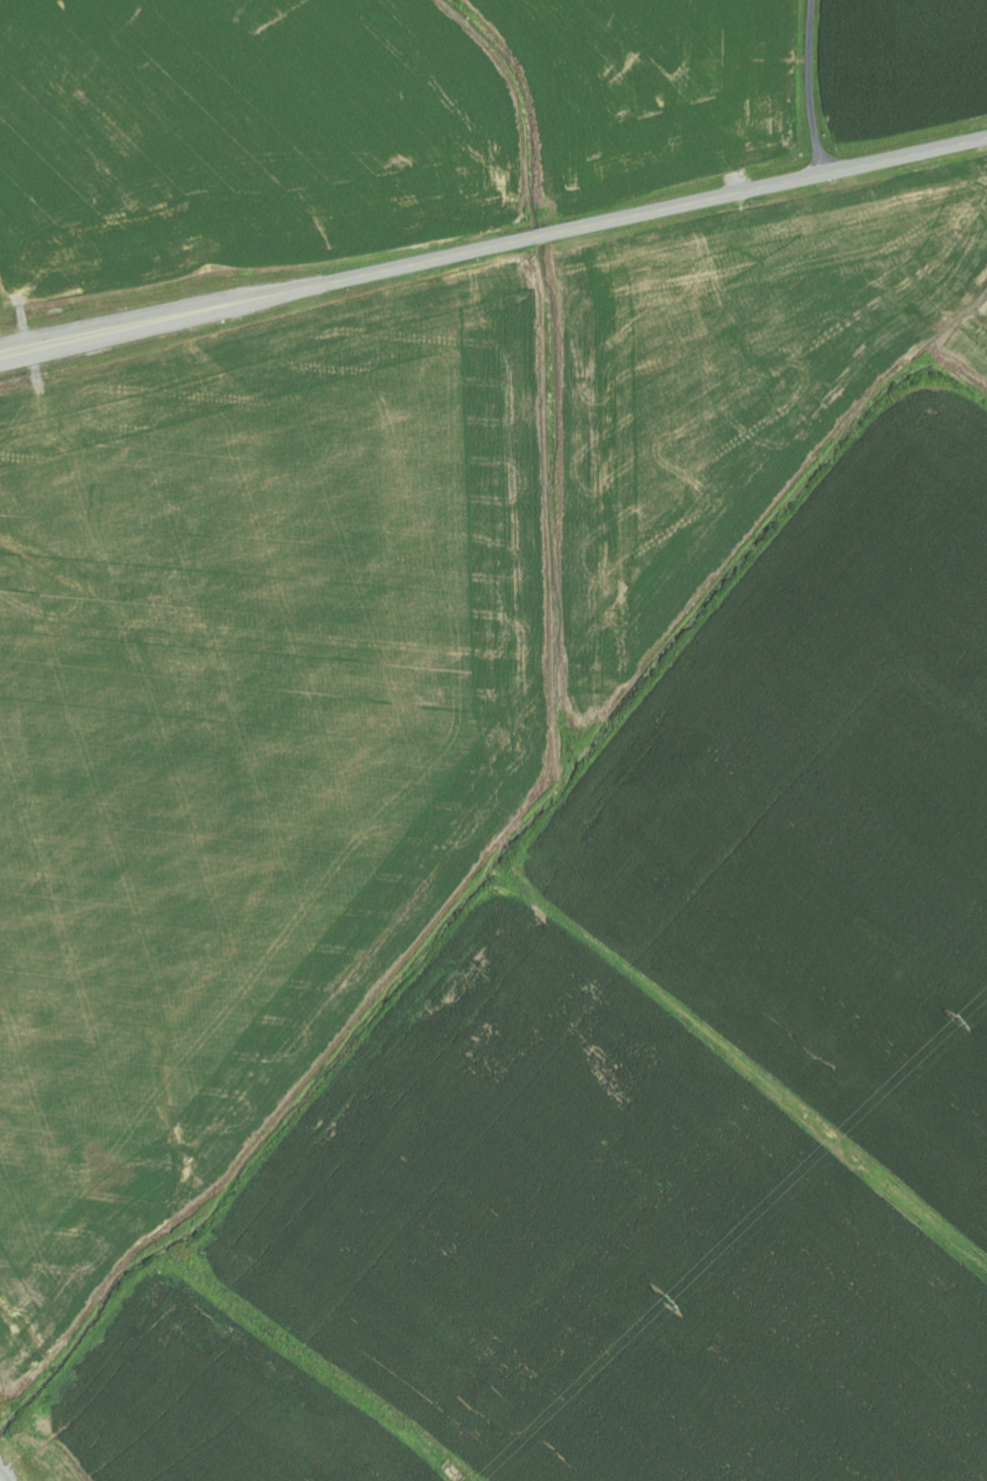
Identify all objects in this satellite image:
road: (808, 86)
road: (493, 246)

